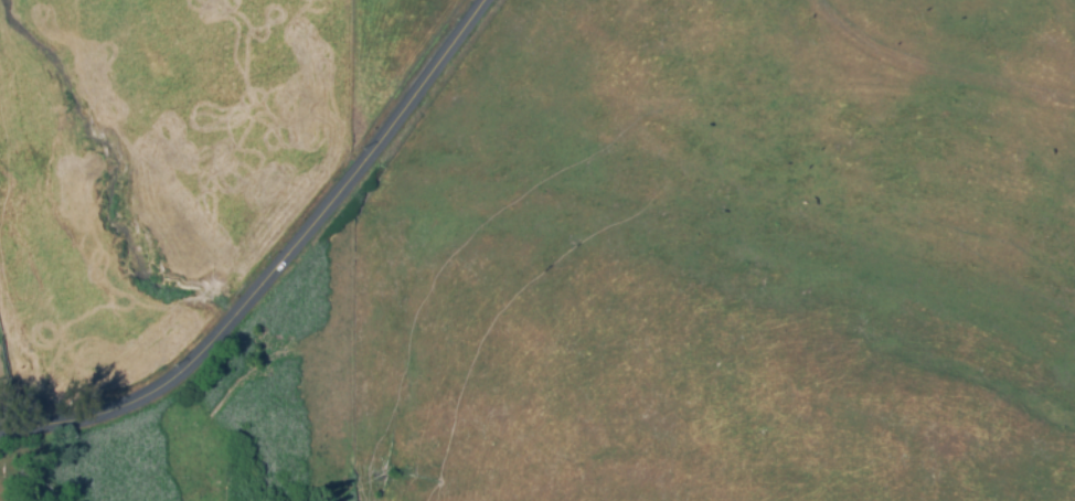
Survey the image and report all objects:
road: (280, 269)
road: (354, 345)

